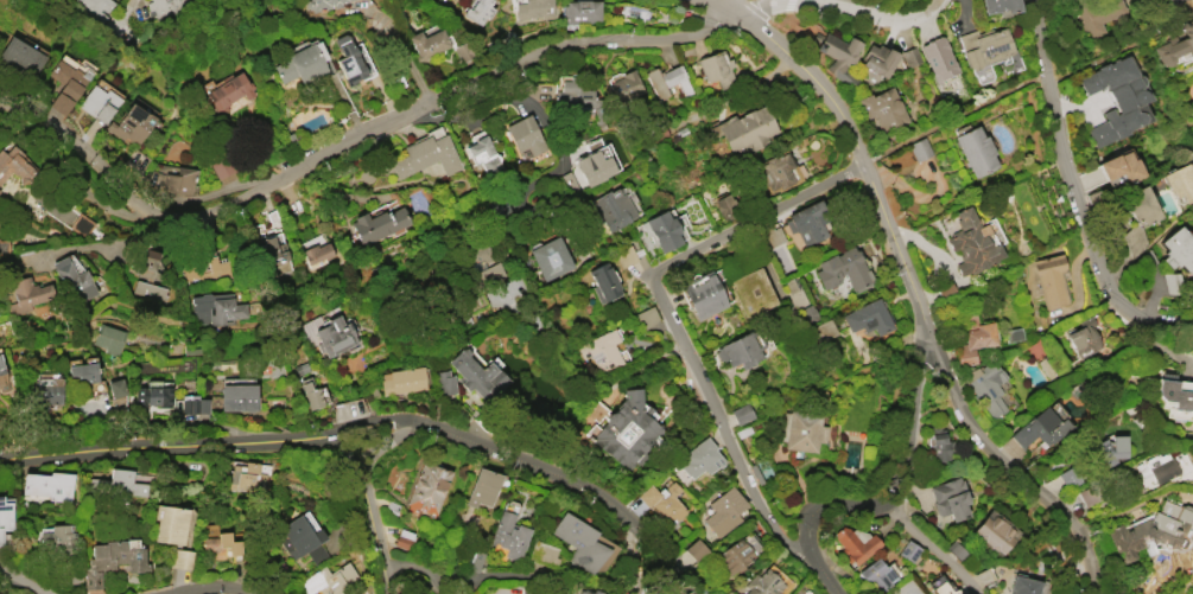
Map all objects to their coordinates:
building: (322, 4)
road: (725, 4)
building: (1001, 6)
building: (94, 7)
building: (164, 7)
road: (1163, 7)
building: (533, 8)
building: (478, 11)
building: (579, 11)
building: (1097, 14)
building: (427, 43)
building: (1175, 43)
road: (401, 46)
building: (984, 46)
building: (462, 51)
building: (19, 53)
building: (837, 55)
building: (909, 56)
building: (938, 58)
building: (348, 59)
building: (877, 59)
building: (303, 63)
building: (716, 68)
building: (68, 78)
building: (667, 79)
road: (1024, 79)
building: (624, 85)
building: (227, 91)
road: (452, 94)
building: (572, 98)
building: (1117, 98)
building: (59, 103)
building: (99, 103)
building: (882, 108)
building: (131, 124)
building: (744, 128)
building: (525, 135)
building: (919, 148)
road: (856, 149)
building: (975, 151)
building: (426, 155)
building: (483, 155)
building: (14, 165)
building: (594, 166)
building: (1121, 166)
building: (222, 167)
building: (779, 172)
building: (178, 181)
building: (1180, 181)
road: (1075, 194)
building: (1138, 204)
building: (724, 206)
building: (611, 209)
building: (806, 222)
building: (377, 224)
building: (660, 230)
building: (770, 235)
road: (128, 242)
building: (971, 243)
building: (268, 249)
building: (1178, 249)
building: (316, 253)
building: (624, 256)
building: (548, 257)
building: (203, 269)
building: (843, 269)
building: (147, 280)
building: (494, 280)
building: (603, 280)
building: (1051, 280)
building: (72, 281)
building: (751, 292)
building: (27, 293)
building: (702, 294)
road: (656, 305)
building: (215, 308)
building: (865, 317)
road: (273, 325)
building: (334, 336)
building: (972, 337)
building: (108, 338)
building: (1083, 338)
building: (740, 349)
building: (601, 351)
road: (582, 371)
building: (1, 375)
building: (476, 375)
building: (81, 376)
building: (401, 381)
building: (443, 382)
building: (985, 385)
building: (115, 388)
building: (47, 391)
building: (310, 392)
building: (152, 395)
building: (1175, 396)
building: (237, 397)
building: (192, 404)
building: (741, 414)
building: (1039, 428)
road: (374, 430)
building: (628, 430)
building: (800, 430)
building: (939, 443)
building: (1108, 449)
building: (699, 458)
building: (1160, 472)
building: (245, 475)
road: (1013, 477)
building: (1068, 477)
road: (678, 478)
building: (118, 484)
building: (49, 485)
building: (427, 487)
building: (482, 487)
road: (901, 490)
building: (1087, 494)
building: (950, 498)
road: (368, 500)
building: (659, 500)
building: (724, 511)
building: (5, 517)
building: (170, 523)
building: (1150, 530)
building: (995, 531)
building: (509, 535)
building: (56, 539)
building: (300, 539)
building: (579, 542)
building: (855, 544)
building: (220, 547)
building: (696, 549)
building: (908, 550)
road: (926, 550)
building: (544, 553)
building: (734, 555)
building: (182, 558)
building: (113, 560)
road: (812, 566)
road: (639, 573)
building: (876, 574)
road: (450, 577)
building: (329, 579)
road: (19, 582)
building: (763, 583)
building: (1022, 585)
road: (214, 587)
building: (943, 588)
building: (589, 592)

